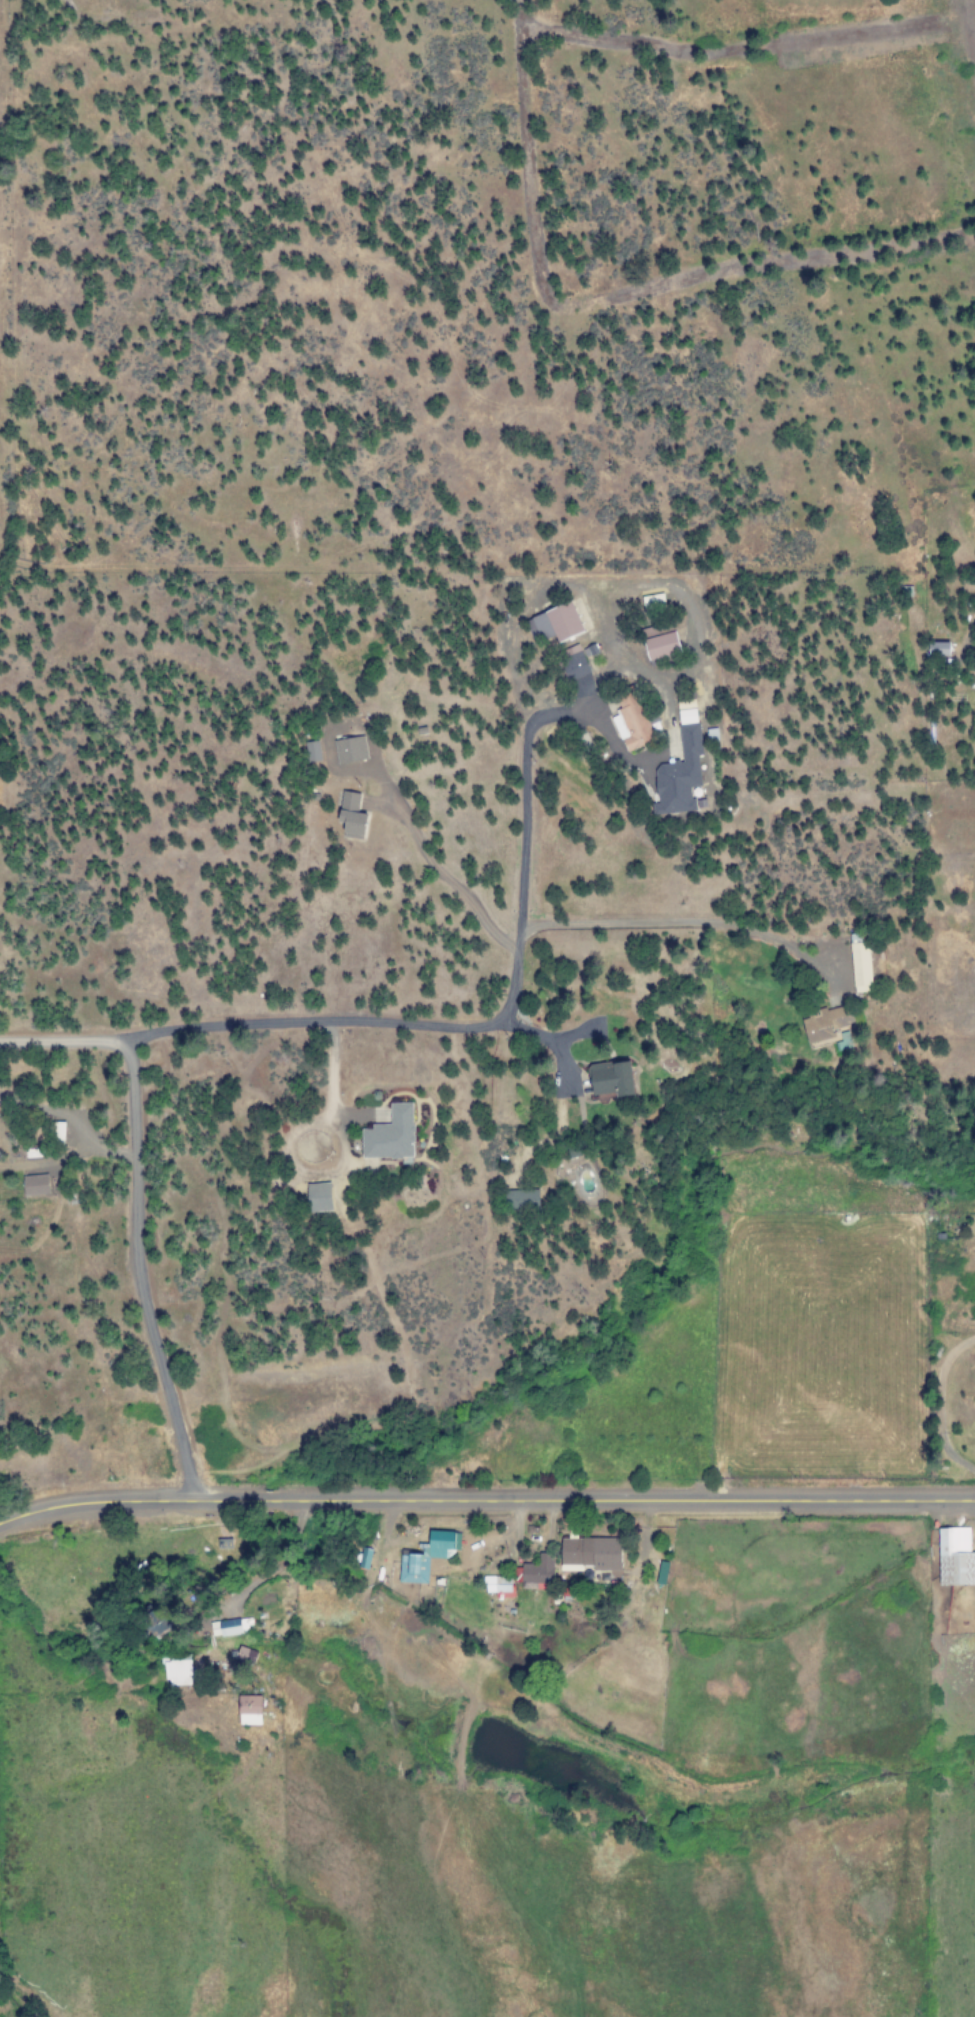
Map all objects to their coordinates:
building: (652, 601)
building: (554, 623)
building: (660, 645)
building: (937, 648)
building: (575, 663)
building: (631, 720)
building: (350, 749)
building: (312, 752)
road: (539, 763)
building: (680, 770)
building: (350, 815)
road: (444, 862)
road: (535, 918)
road: (695, 925)
road: (533, 943)
road: (524, 951)
building: (860, 964)
building: (823, 1024)
road: (363, 1025)
road: (70, 1041)
road: (562, 1041)
road: (577, 1070)
road: (344, 1072)
building: (610, 1079)
road: (205, 1082)
road: (89, 1115)
building: (390, 1135)
building: (35, 1185)
building: (318, 1196)
building: (521, 1199)
road: (365, 1225)
road: (149, 1273)
road: (463, 1285)
road: (445, 1352)
road: (486, 1500)
building: (591, 1552)
building: (427, 1556)
building: (955, 1557)
building: (536, 1570)
building: (661, 1573)
building: (498, 1585)
building: (626, 1593)
building: (231, 1627)
building: (245, 1655)
building: (178, 1672)
building: (248, 1709)

